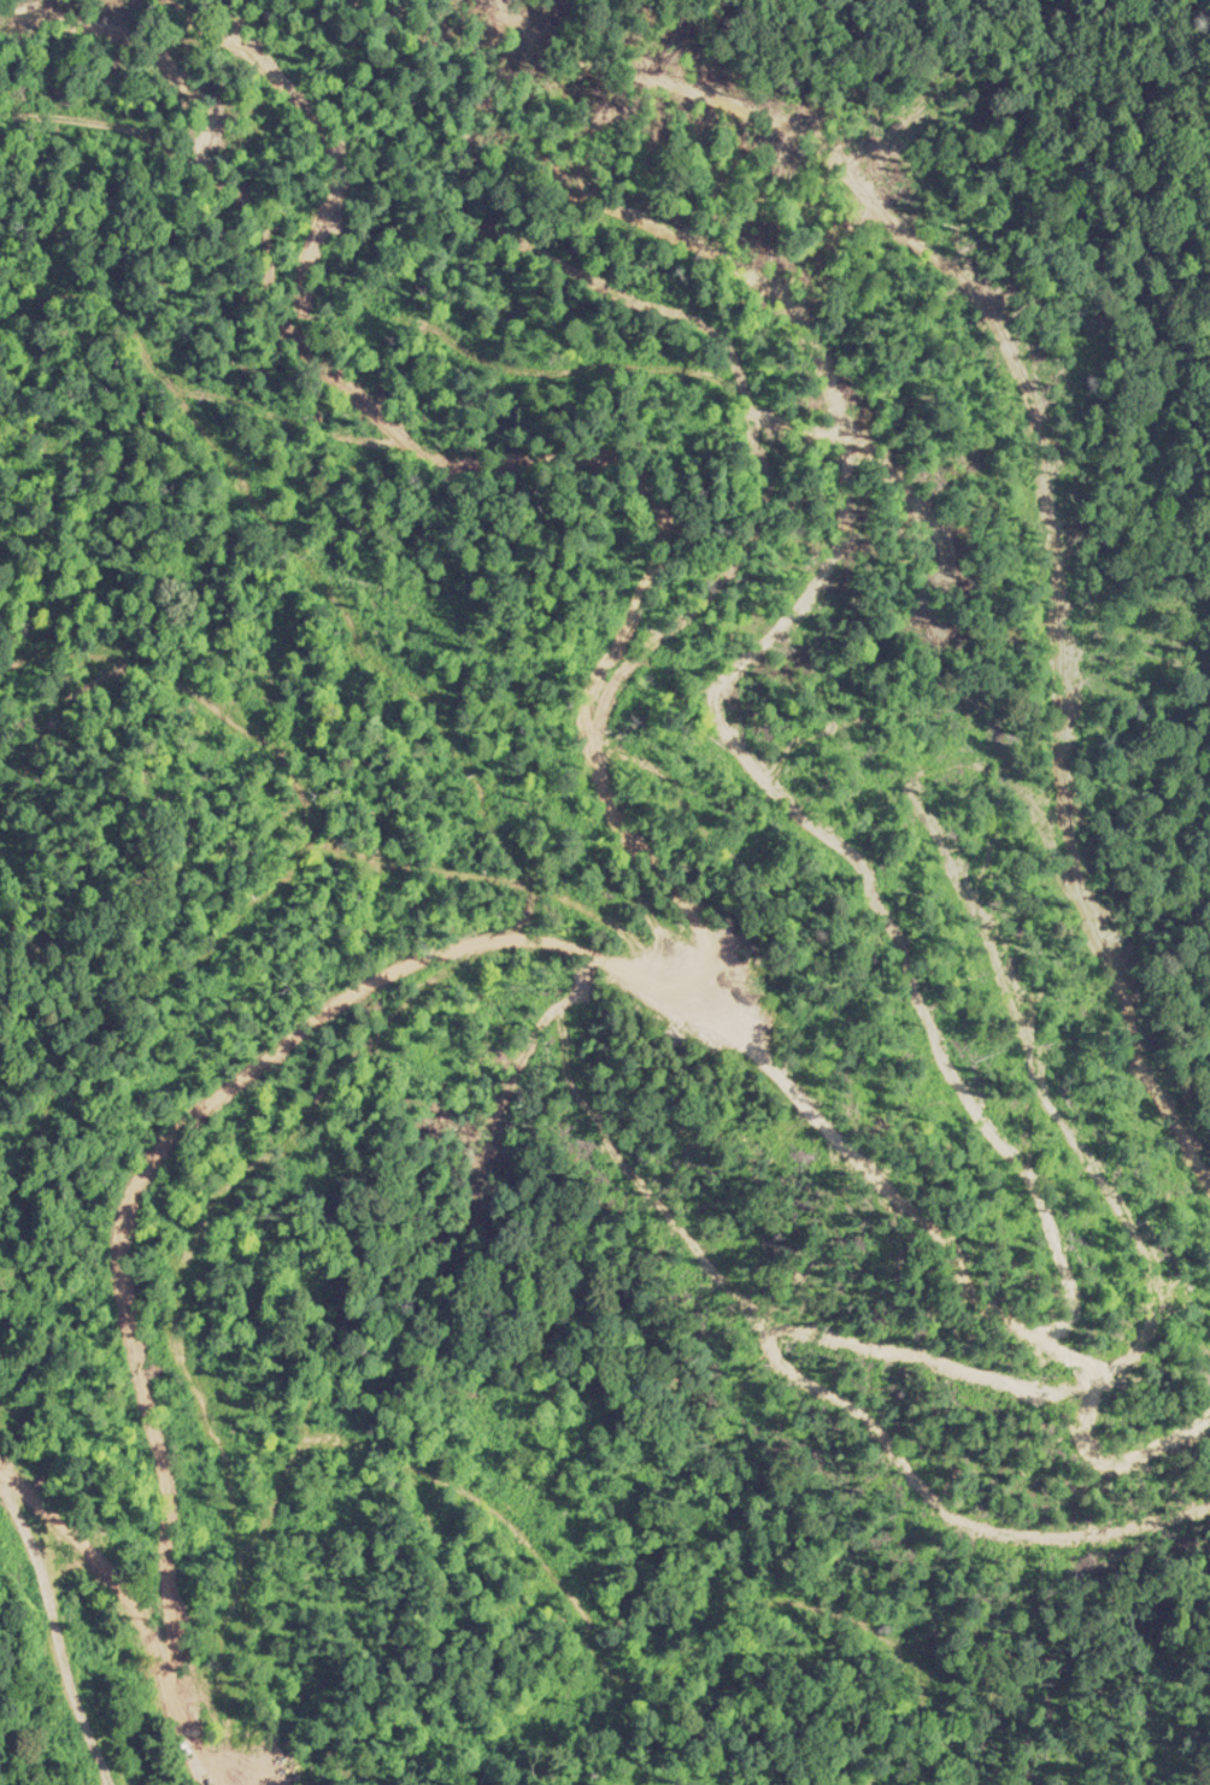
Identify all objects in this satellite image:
road: (74, 1584)

